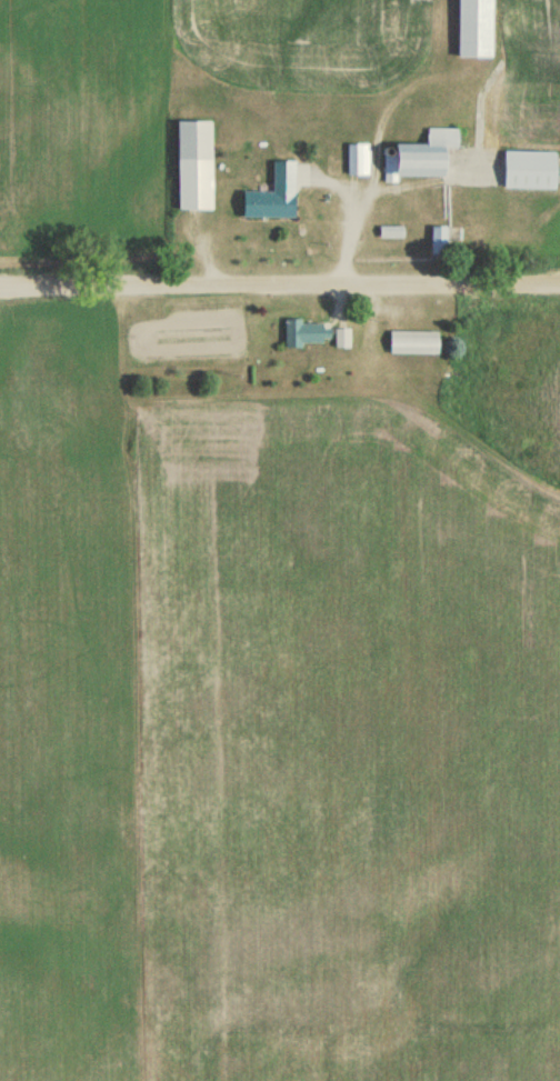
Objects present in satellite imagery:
building: (474, 29)
building: (424, 154)
building: (350, 161)
building: (194, 166)
building: (529, 170)
building: (273, 196)
road: (359, 199)
road: (279, 283)
building: (306, 334)
building: (342, 339)
building: (413, 342)

